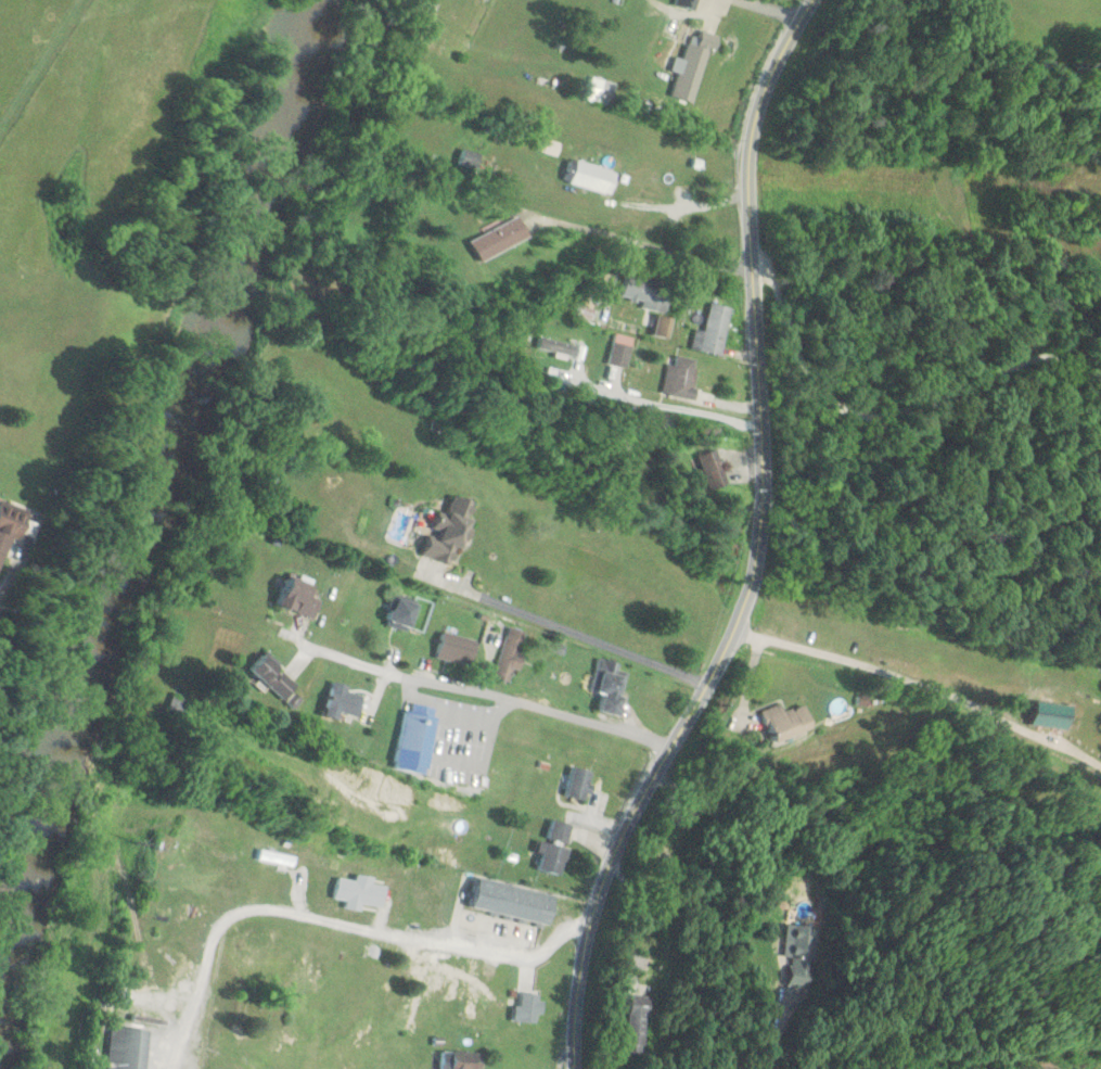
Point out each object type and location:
building: (686, 3)
building: (594, 177)
road: (746, 220)
road: (957, 227)
building: (500, 238)
building: (646, 291)
building: (664, 326)
building: (713, 330)
building: (619, 354)
building: (681, 378)
river: (137, 510)
building: (14, 527)
building: (446, 536)
building: (300, 598)
building: (402, 614)
building: (457, 649)
building: (511, 656)
building: (277, 678)
building: (609, 686)
road: (478, 693)
building: (345, 700)
building: (1051, 715)
building: (786, 722)
building: (417, 740)
road: (663, 760)
building: (580, 782)
building: (554, 849)
road: (334, 924)
building: (475, 990)
building: (527, 1006)
building: (639, 1023)
building: (129, 1048)
building: (462, 1060)

